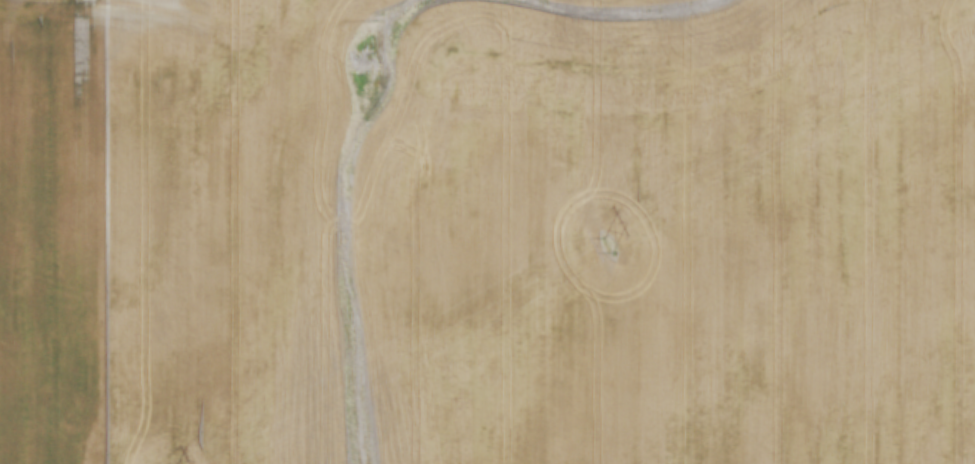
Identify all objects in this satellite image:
power tower: (606, 248)

